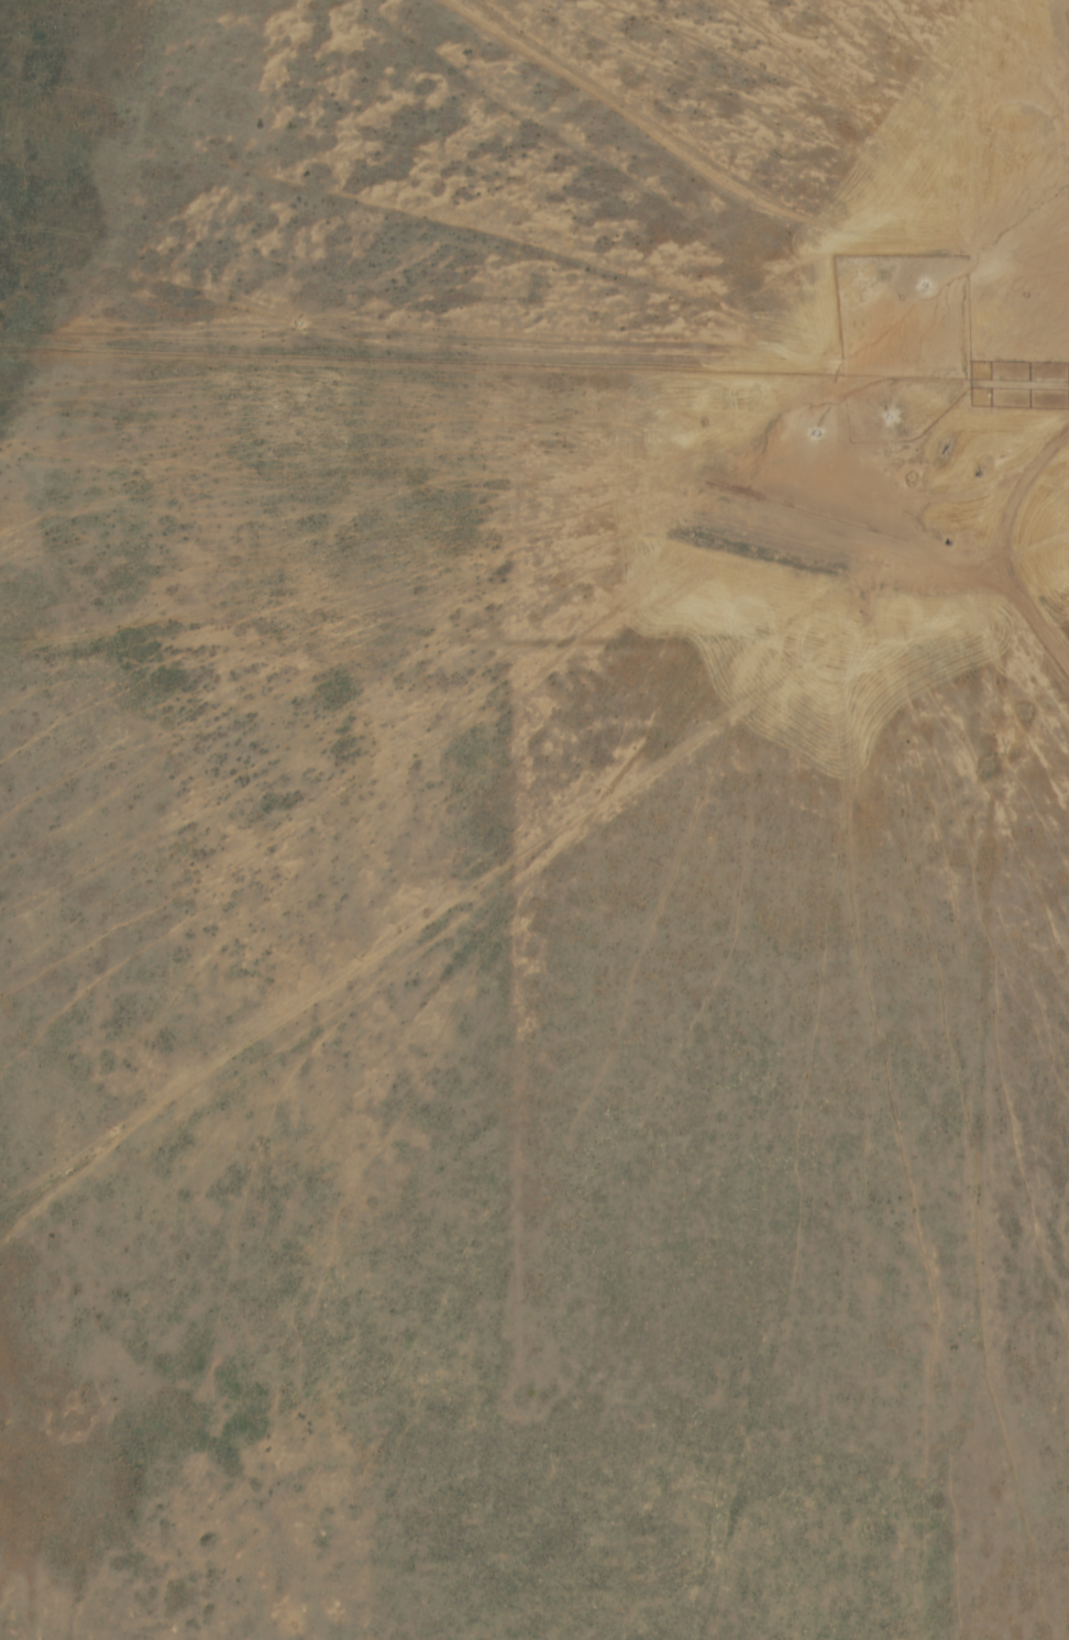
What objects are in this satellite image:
road: (1045, 536)
road: (540, 837)

